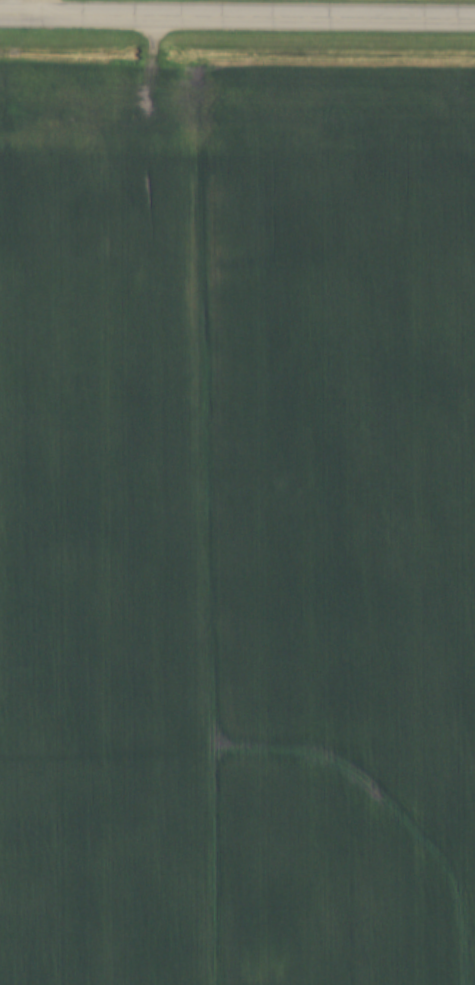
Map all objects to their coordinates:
road: (24, 7)
road: (237, 16)

